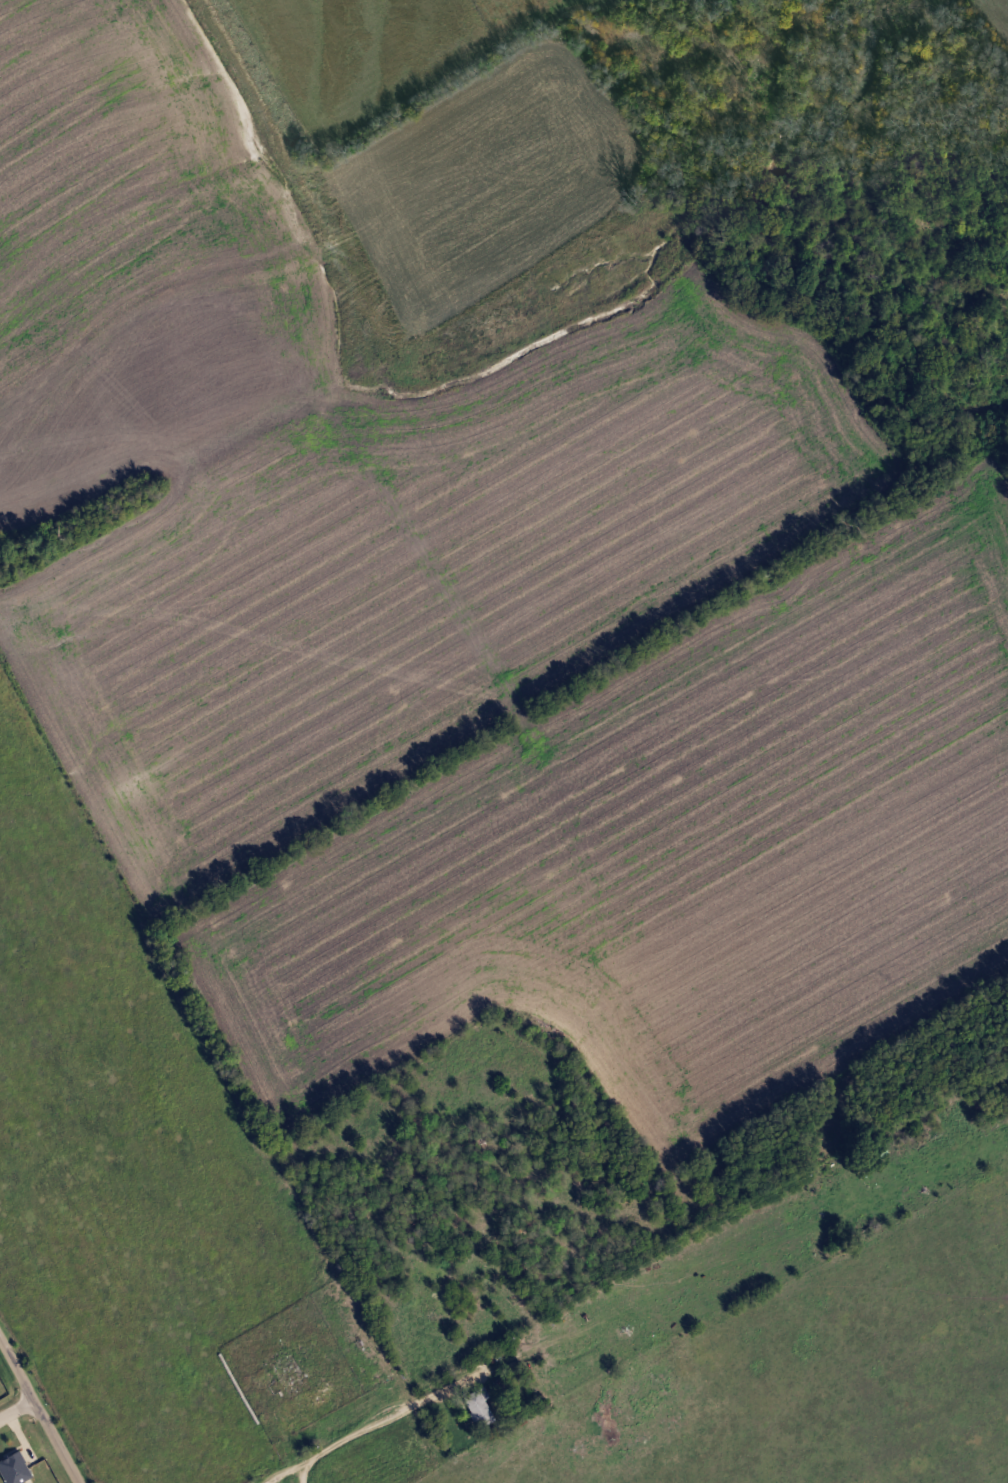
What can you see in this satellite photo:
building: (869, 1152)
road: (545, 1346)
building: (283, 1373)
road: (16, 1407)
building: (474, 1408)
road: (40, 1411)

